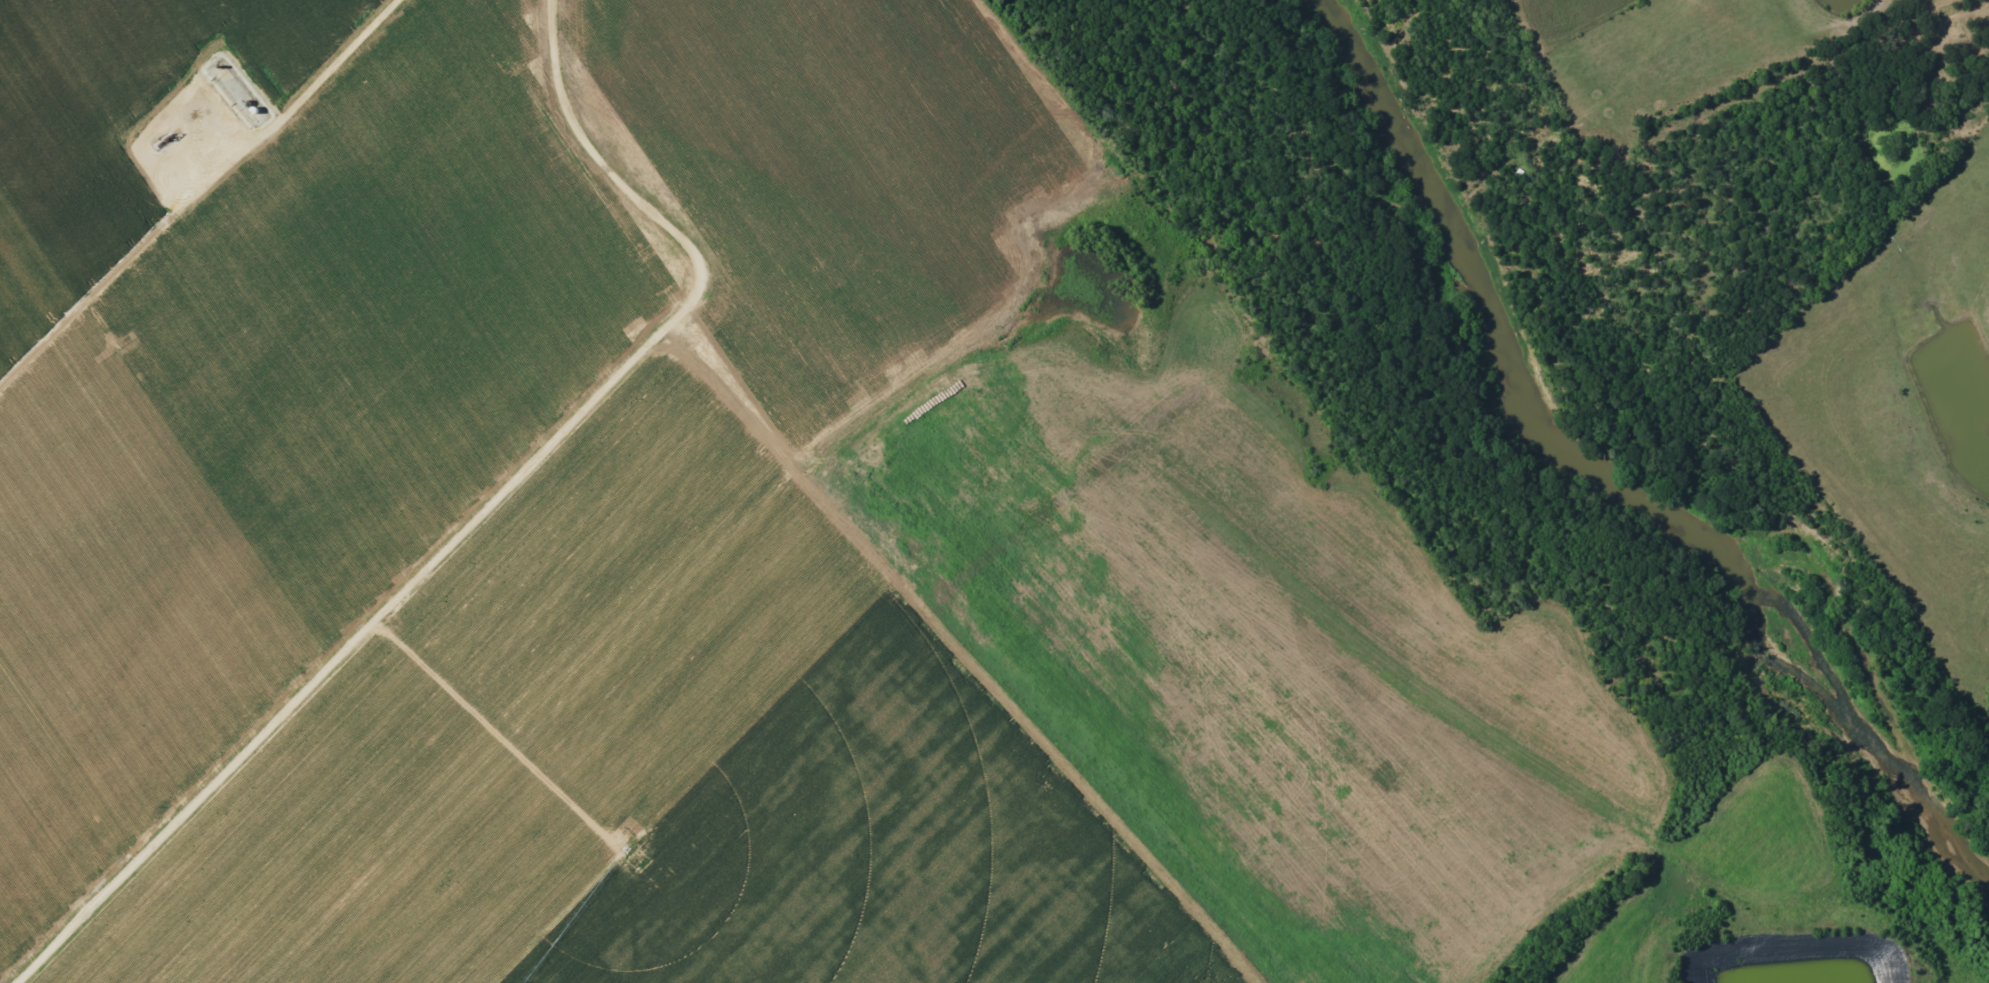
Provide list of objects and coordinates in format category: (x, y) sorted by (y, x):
chimney: (218, 66)
building: (247, 101)
silo: (247, 101)
building: (254, 108)
silo: (254, 108)
petroleum well: (163, 138)
river: (1598, 478)

